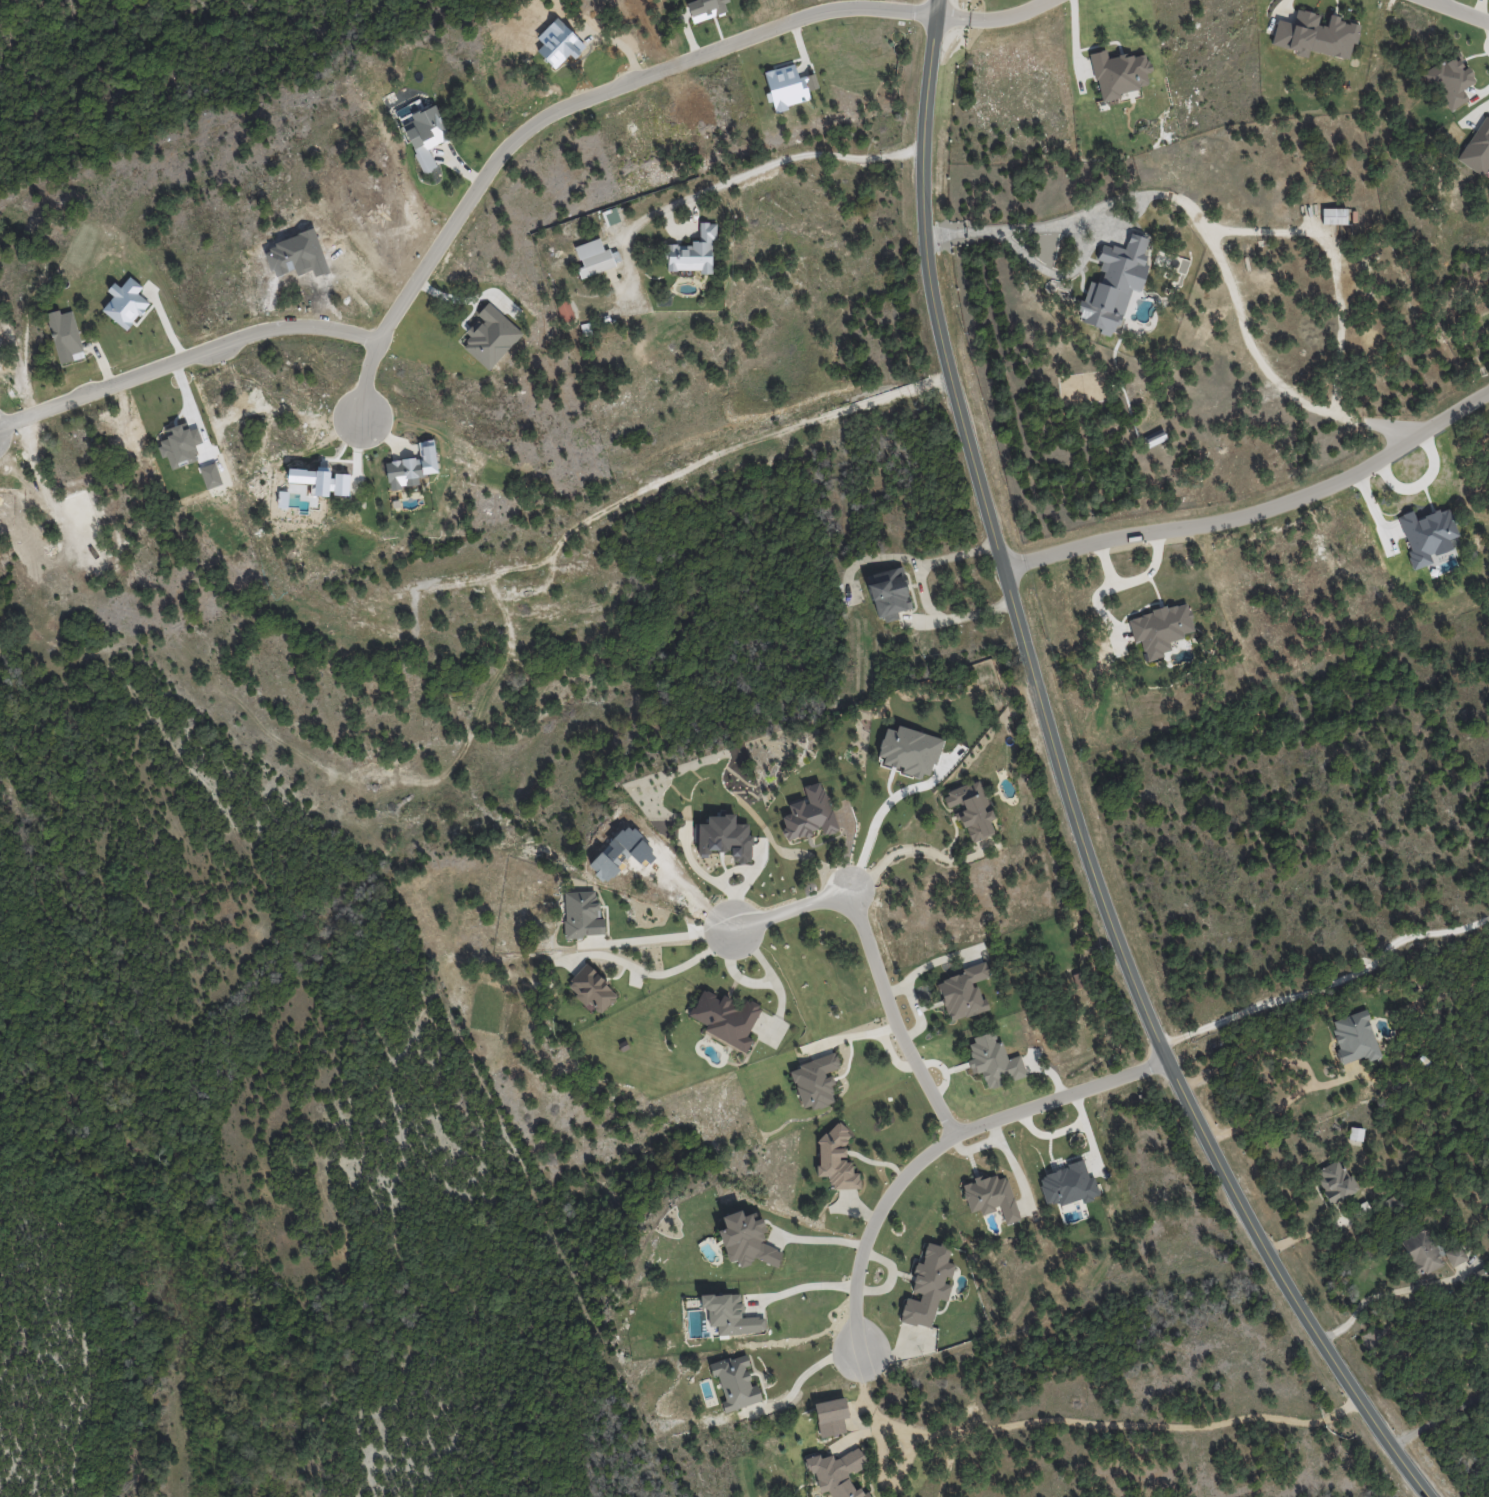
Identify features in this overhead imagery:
building: (705, 9)
road: (1458, 10)
building: (1315, 35)
building: (1118, 73)
building: (1448, 80)
road: (616, 86)
building: (785, 87)
building: (426, 136)
building: (1477, 149)
road: (768, 164)
building: (610, 216)
road: (1211, 239)
building: (693, 253)
building: (594, 257)
building: (1113, 284)
building: (125, 303)
building: (564, 310)
building: (65, 336)
road: (185, 357)
building: (411, 467)
road: (1257, 510)
building: (1426, 535)
building: (888, 593)
road: (922, 593)
building: (1159, 628)
road: (1065, 785)
road: (883, 804)
building: (971, 810)
building: (808, 814)
building: (724, 838)
road: (918, 847)
building: (582, 915)
road: (672, 933)
road: (874, 956)
road: (659, 971)
road: (2, 981)
road: (1327, 984)
building: (591, 989)
building: (963, 992)
building: (724, 1017)
road: (849, 1036)
building: (1354, 1037)
road: (891, 1054)
building: (993, 1061)
building: (814, 1082)
road: (1283, 1101)
building: (1355, 1134)
road: (937, 1145)
park: (259, 1148)
building: (835, 1160)
building: (1334, 1181)
building: (1066, 1185)
building: (991, 1196)
building: (745, 1240)
road: (821, 1240)
building: (1421, 1252)
building: (1455, 1255)
road: (77, 1284)
road: (804, 1285)
building: (928, 1286)
road: (1385, 1293)
building: (729, 1315)
road: (801, 1378)
building: (735, 1383)
building: (830, 1416)
road: (1440, 1417)
road: (1093, 1422)
building: (837, 1473)

